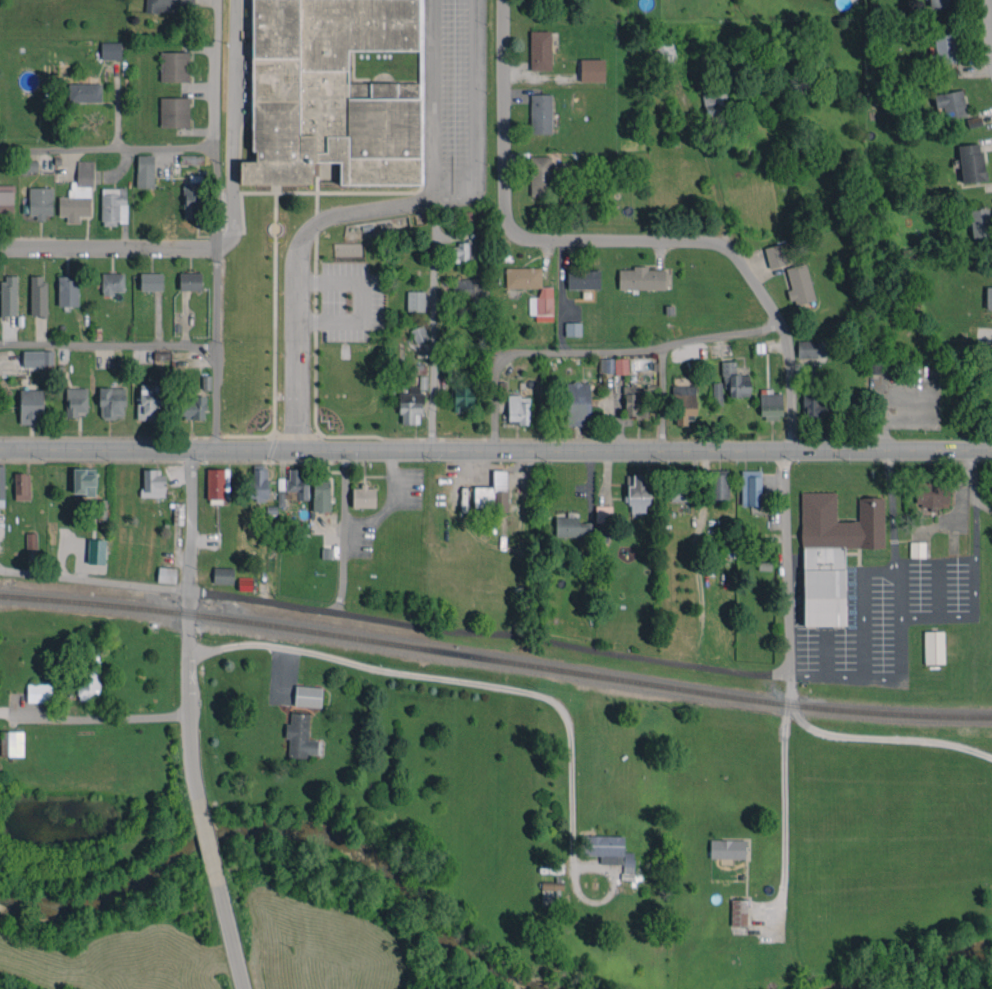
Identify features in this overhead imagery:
building: (938, 3)
building: (167, 5)
road: (989, 23)
building: (945, 48)
building: (110, 50)
building: (540, 50)
building: (174, 66)
building: (591, 70)
building: (84, 92)
building: (330, 92)
road: (432, 101)
building: (713, 101)
building: (951, 103)
building: (174, 112)
building: (540, 113)
building: (973, 121)
road: (212, 124)
road: (232, 127)
road: (106, 148)
building: (971, 162)
building: (28, 166)
building: (144, 170)
building: (540, 175)
building: (78, 194)
building: (192, 197)
building: (6, 200)
building: (40, 202)
building: (113, 206)
road: (372, 211)
building: (979, 222)
road: (613, 240)
road: (108, 247)
building: (462, 251)
building: (778, 254)
building: (522, 277)
building: (583, 278)
building: (641, 278)
building: (150, 281)
building: (190, 281)
building: (111, 283)
building: (799, 284)
building: (467, 287)
building: (67, 291)
building: (8, 295)
building: (37, 295)
road: (562, 296)
building: (989, 297)
building: (415, 300)
building: (542, 304)
road: (363, 307)
building: (572, 328)
building: (418, 334)
road: (431, 336)
road: (108, 345)
road: (215, 348)
building: (810, 348)
road: (594, 350)
building: (37, 358)
building: (876, 364)
building: (613, 365)
building: (735, 380)
building: (206, 382)
building: (717, 393)
building: (463, 399)
building: (75, 401)
building: (633, 401)
building: (111, 402)
building: (148, 402)
building: (577, 403)
building: (683, 403)
building: (770, 404)
building: (30, 406)
building: (813, 406)
building: (193, 407)
building: (518, 409)
road: (496, 449)
road: (974, 475)
building: (84, 481)
building: (152, 483)
building: (217, 483)
building: (258, 483)
building: (297, 484)
building: (719, 484)
building: (679, 485)
building: (1, 486)
building: (22, 486)
building: (751, 488)
building: (493, 492)
building: (320, 494)
building: (638, 495)
building: (931, 495)
building: (363, 496)
building: (280, 497)
road: (959, 498)
road: (890, 510)
building: (177, 513)
building: (585, 524)
building: (31, 540)
building: (917, 549)
building: (96, 551)
building: (832, 552)
road: (784, 561)
building: (166, 574)
building: (223, 575)
road: (974, 592)
road: (901, 593)
road: (248, 604)
road: (187, 631)
building: (933, 647)
railway: (495, 660)
road: (669, 662)
road: (877, 678)
building: (88, 679)
road: (447, 682)
building: (39, 692)
building: (307, 696)
road: (93, 717)
building: (299, 736)
road: (884, 739)
building: (11, 743)
road: (207, 842)
building: (727, 848)
building: (608, 851)
building: (547, 893)
building: (738, 912)
road: (228, 931)

